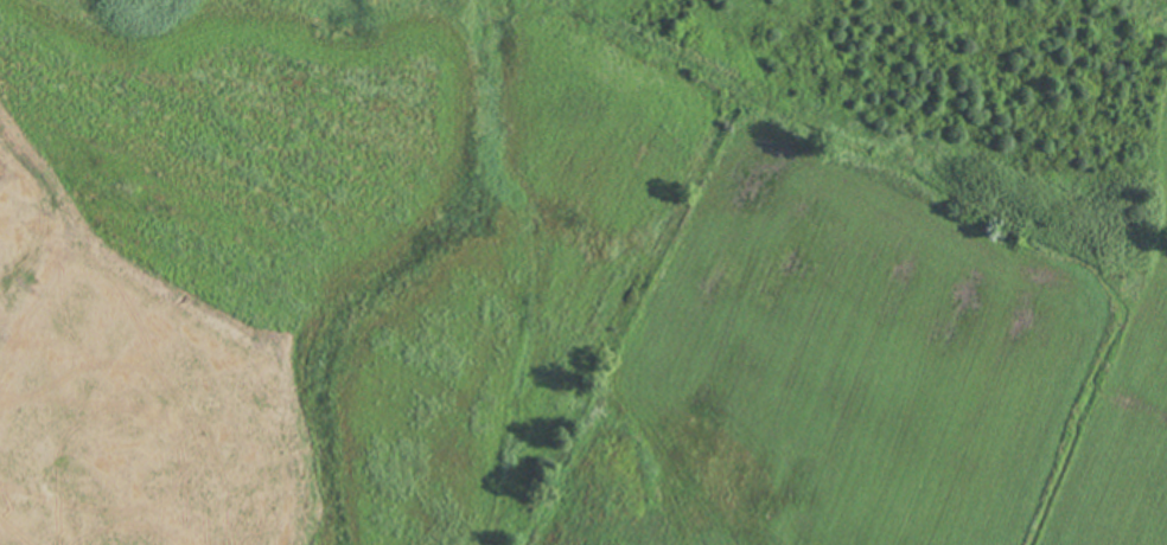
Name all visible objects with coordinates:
crop: (875, 289)

